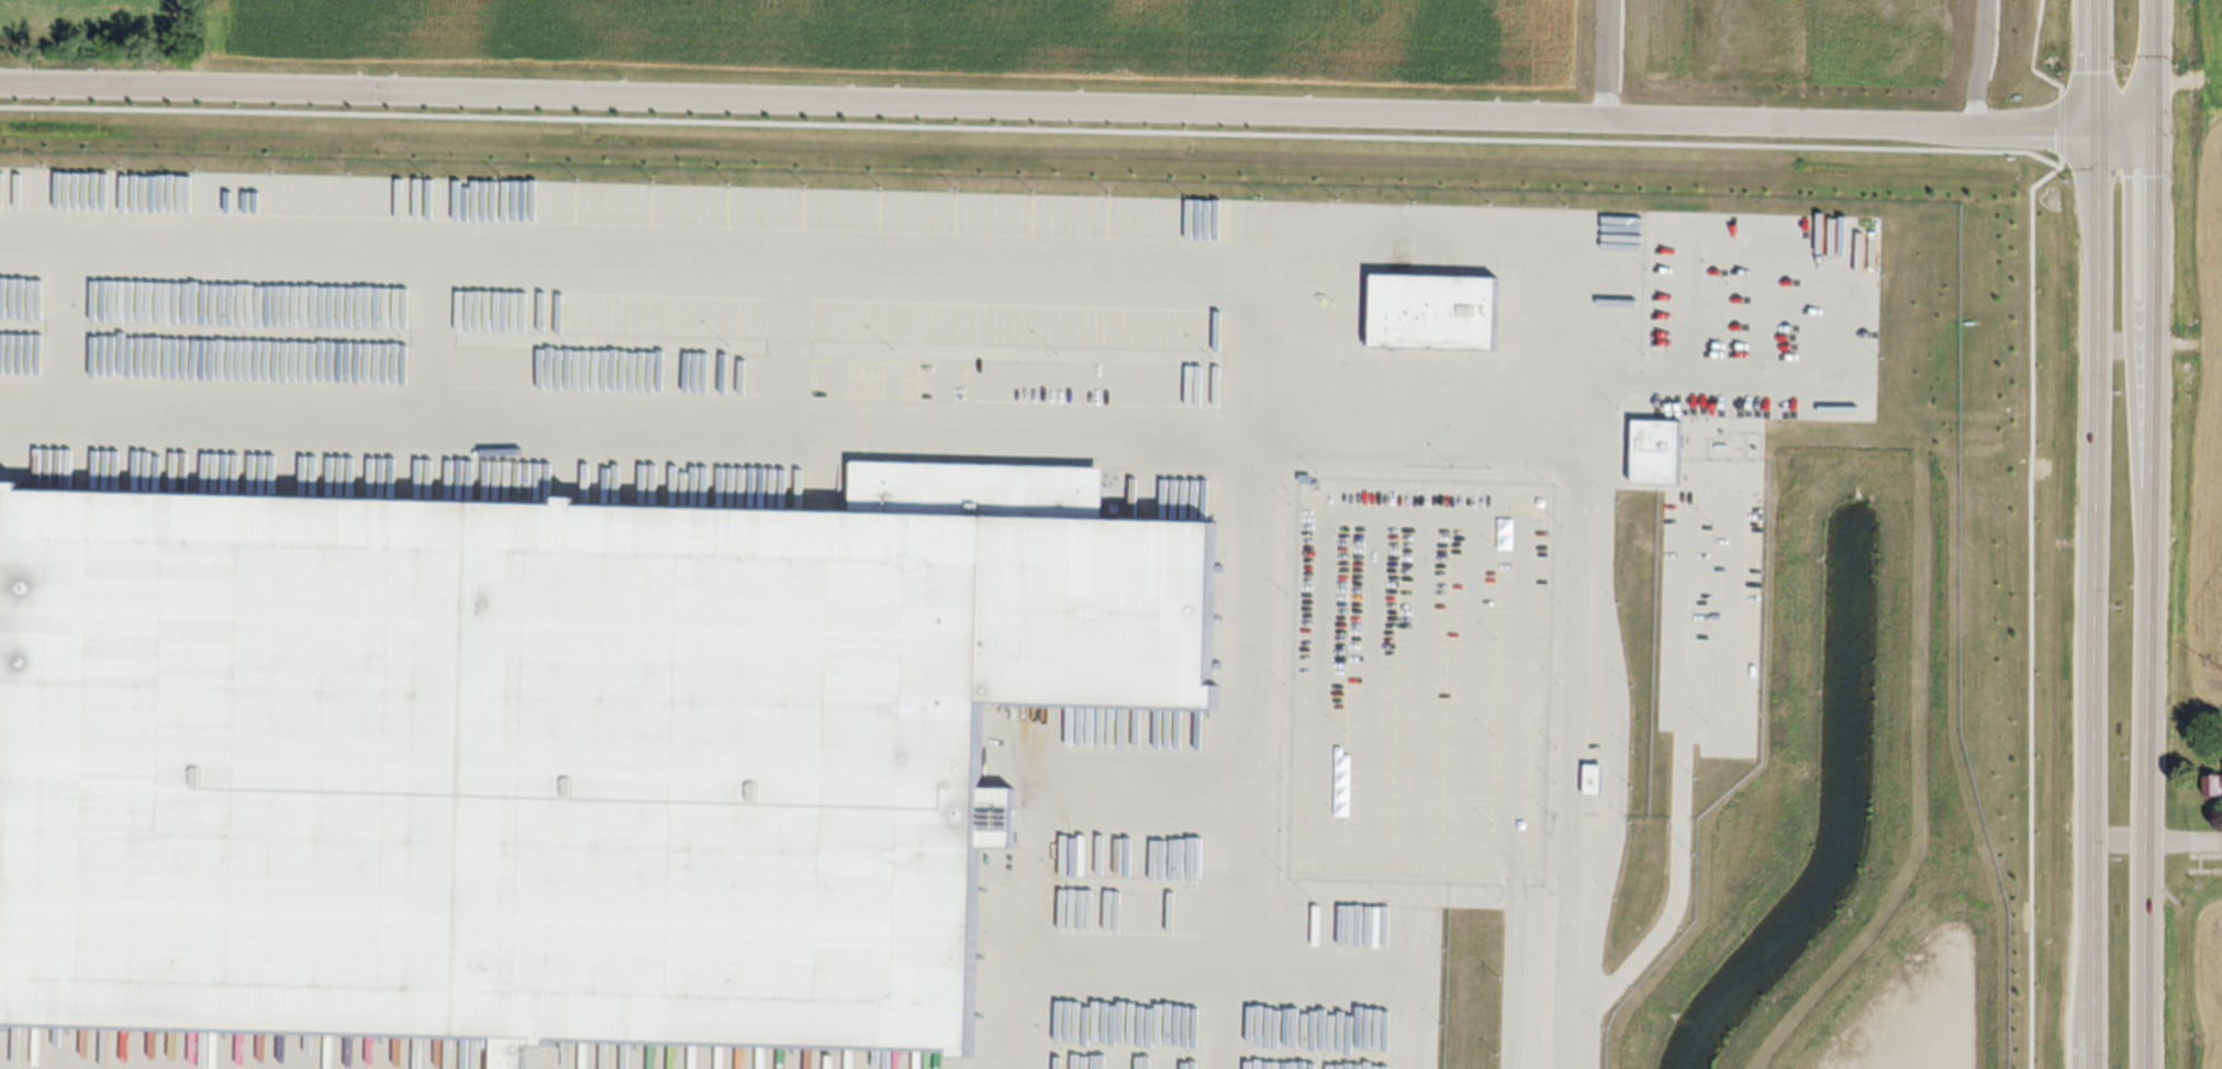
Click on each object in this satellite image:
road: (1076, 102)
traffic signals: (2092, 126)
traffic signals: (2153, 126)
road: (1202, 260)
road: (2153, 533)
road: (2095, 534)
road: (1252, 743)
building: (540, 759)
building: (2212, 786)
road: (2122, 835)
road: (2187, 836)

